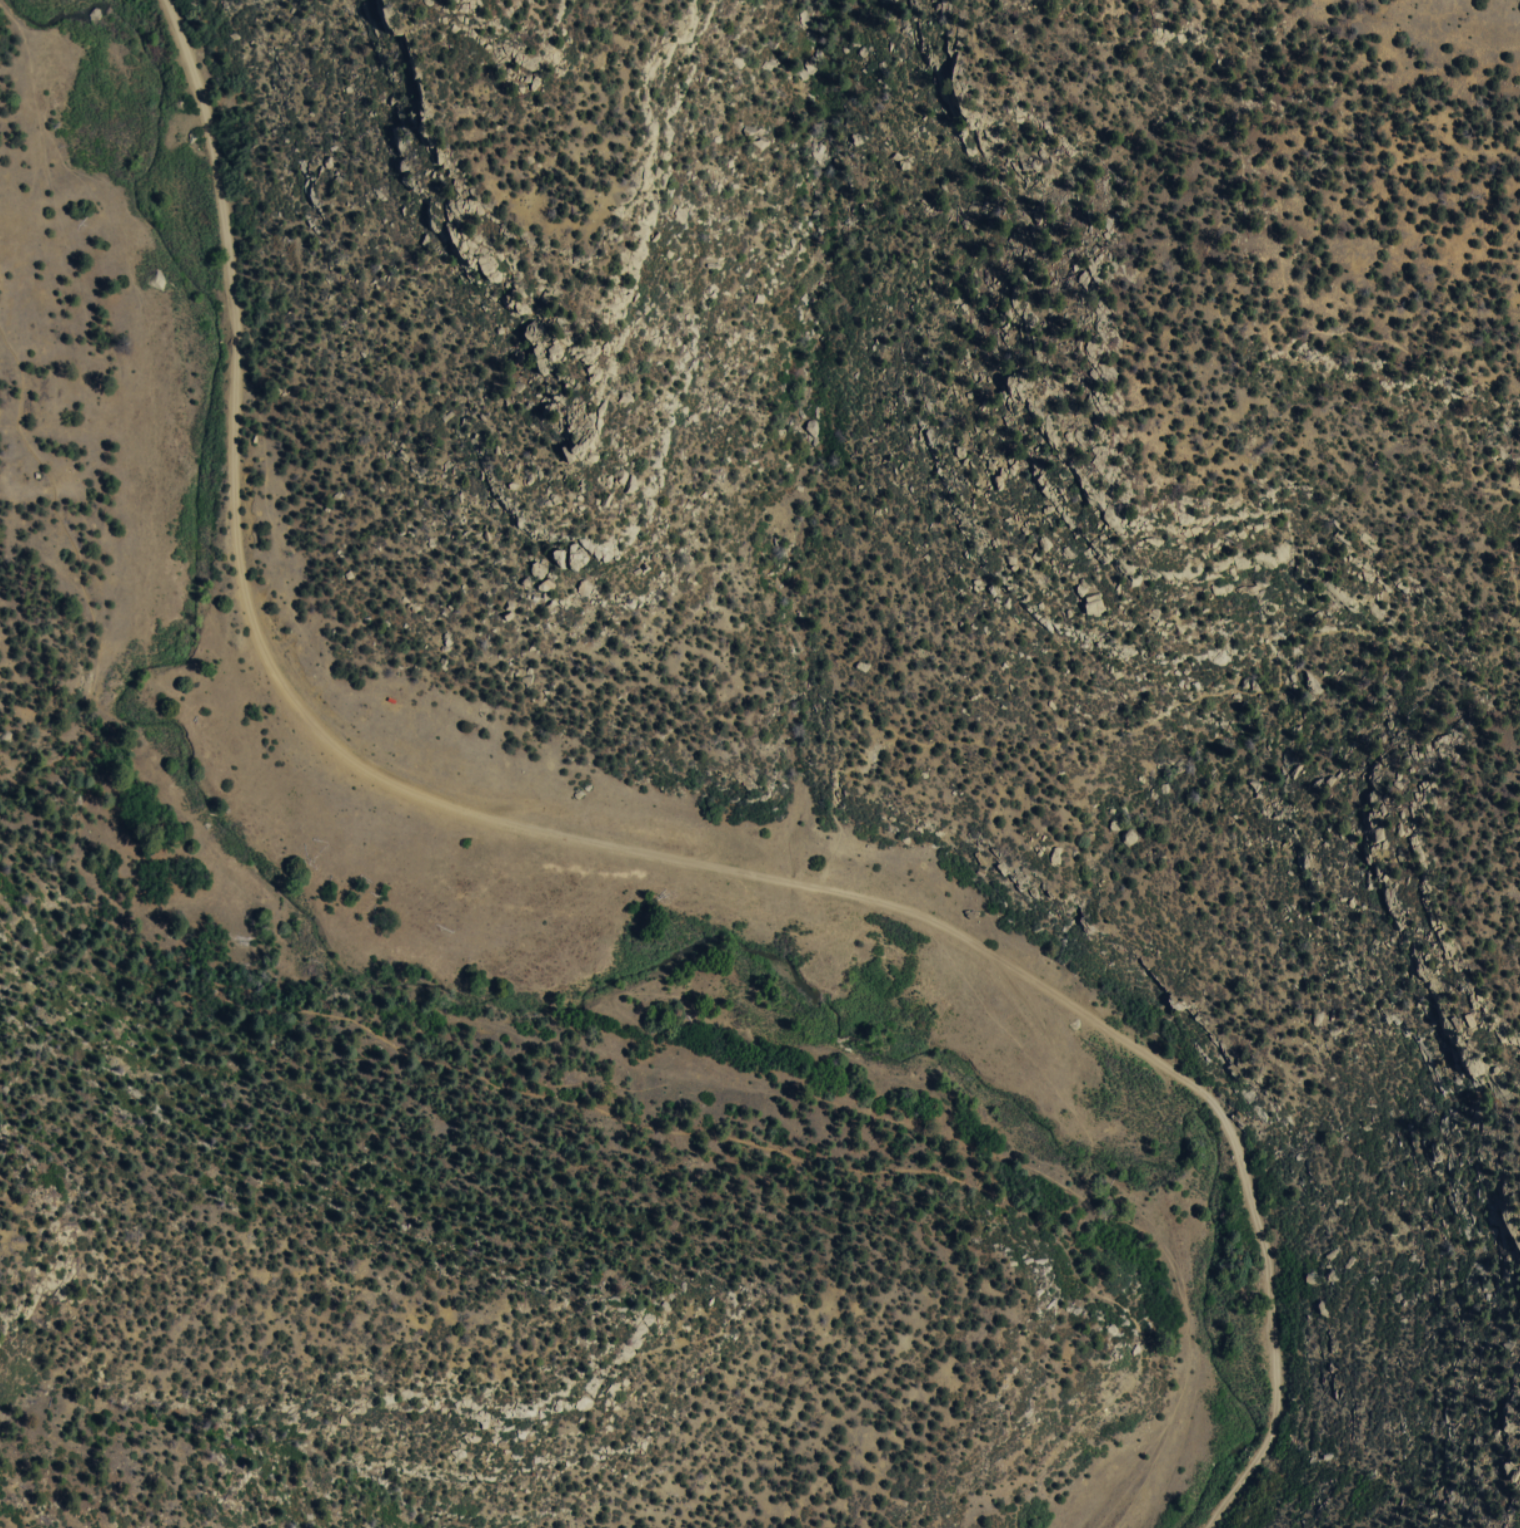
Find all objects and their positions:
road: (1221, 318)
road: (257, 634)
building: (395, 701)
road: (1186, 706)
road: (146, 772)
road: (279, 783)
road: (215, 815)
road: (445, 1067)
road: (1215, 1103)

